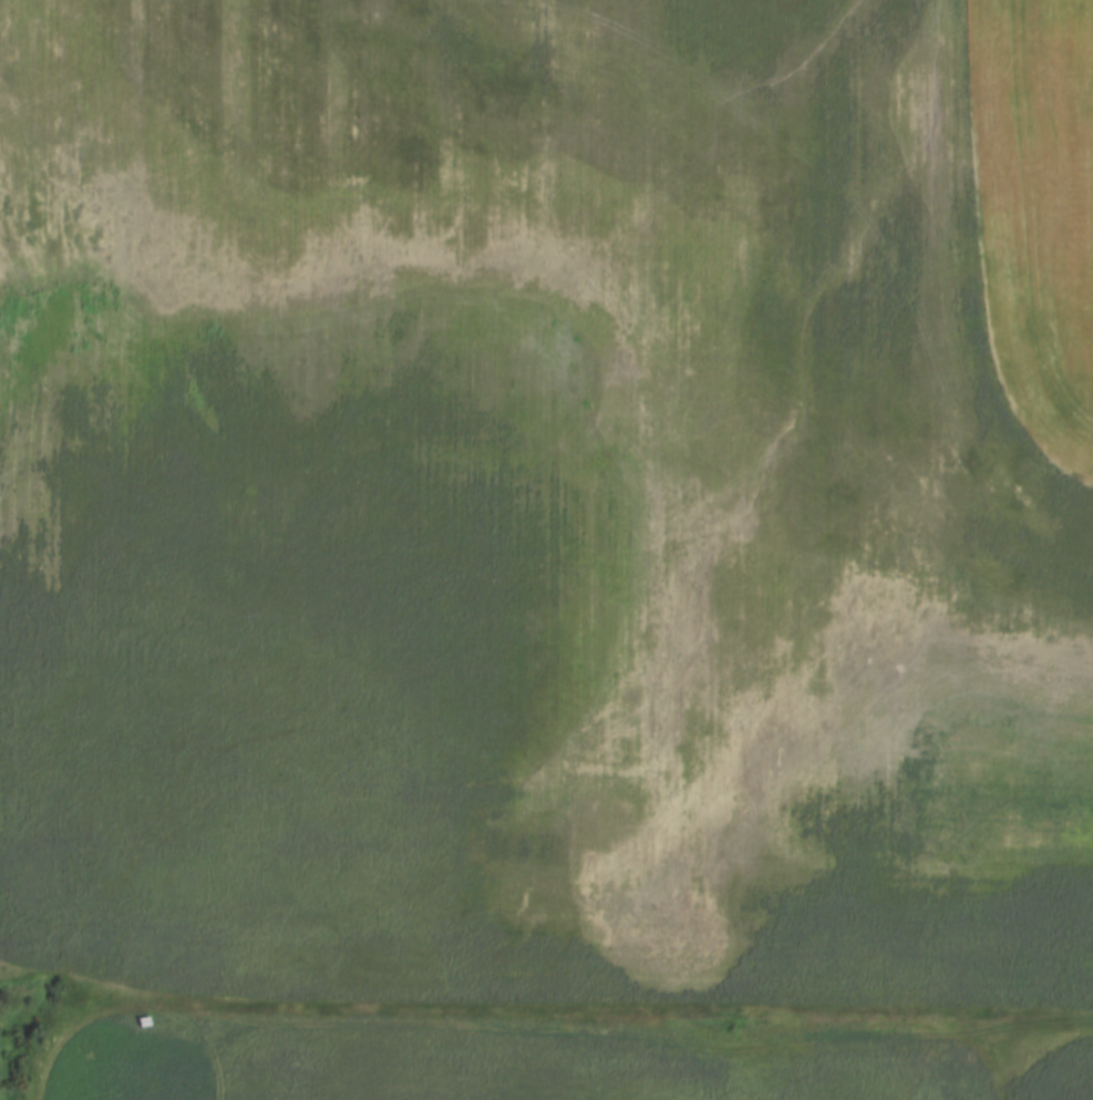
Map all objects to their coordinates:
road: (1035, 1012)

